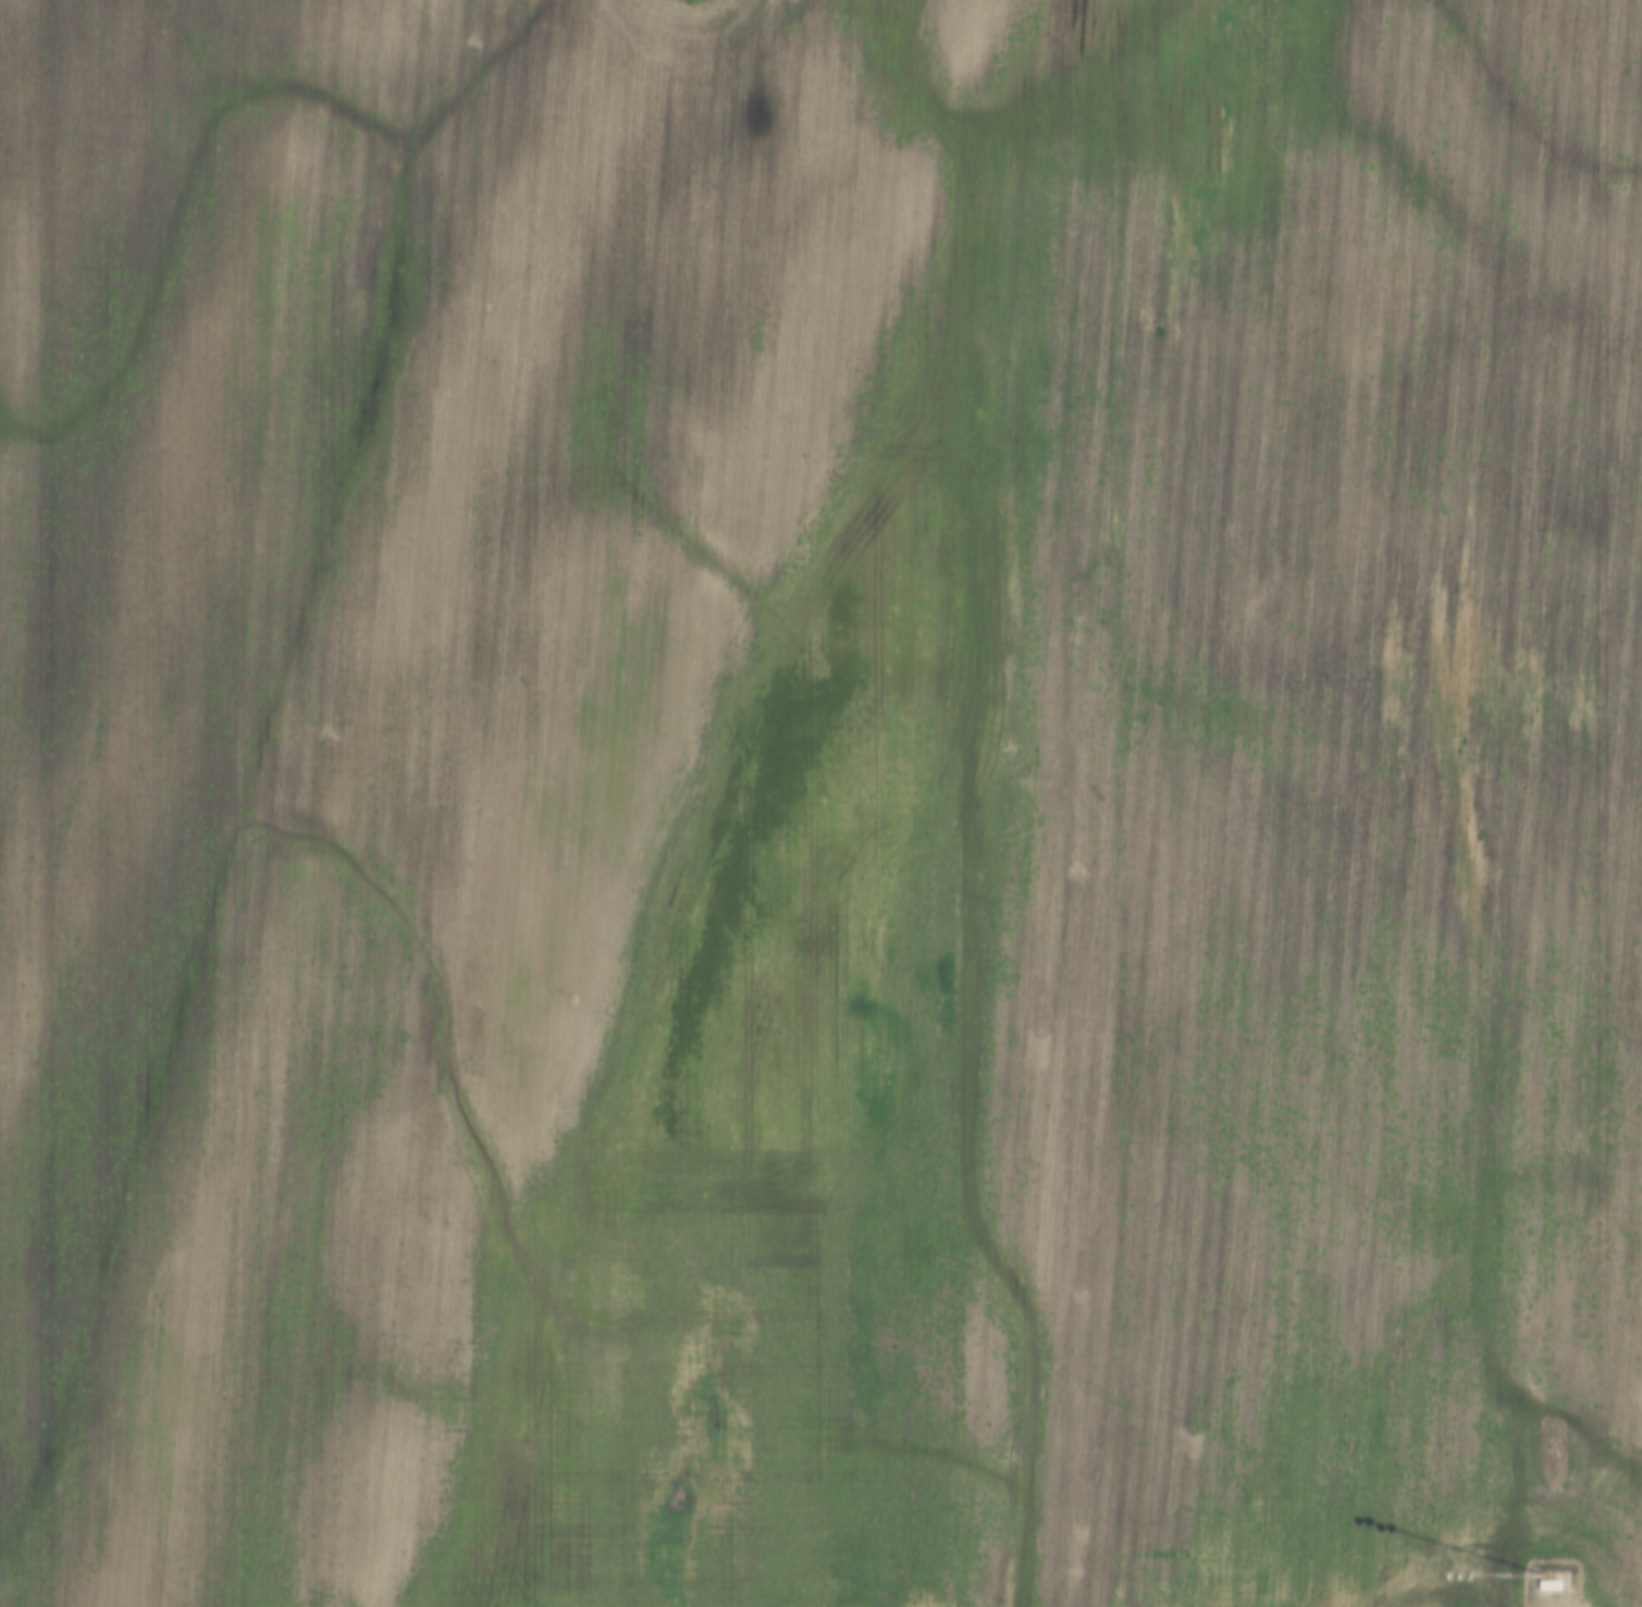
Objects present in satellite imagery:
building: (1553, 1585)
building: (1555, 1593)

